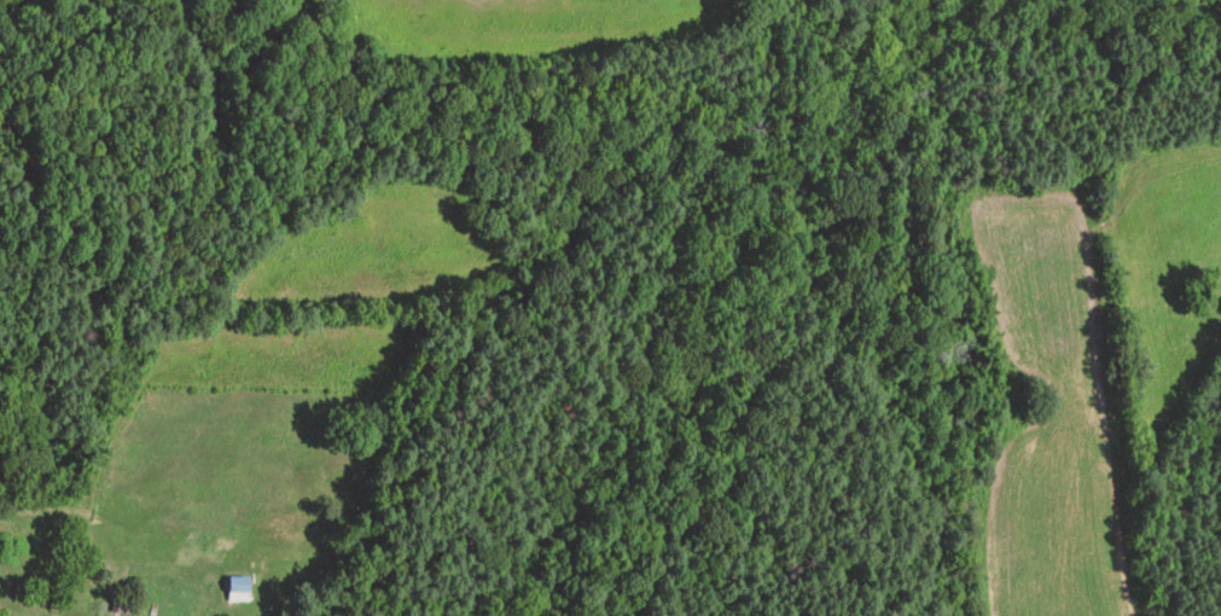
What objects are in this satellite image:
building: (237, 588)

